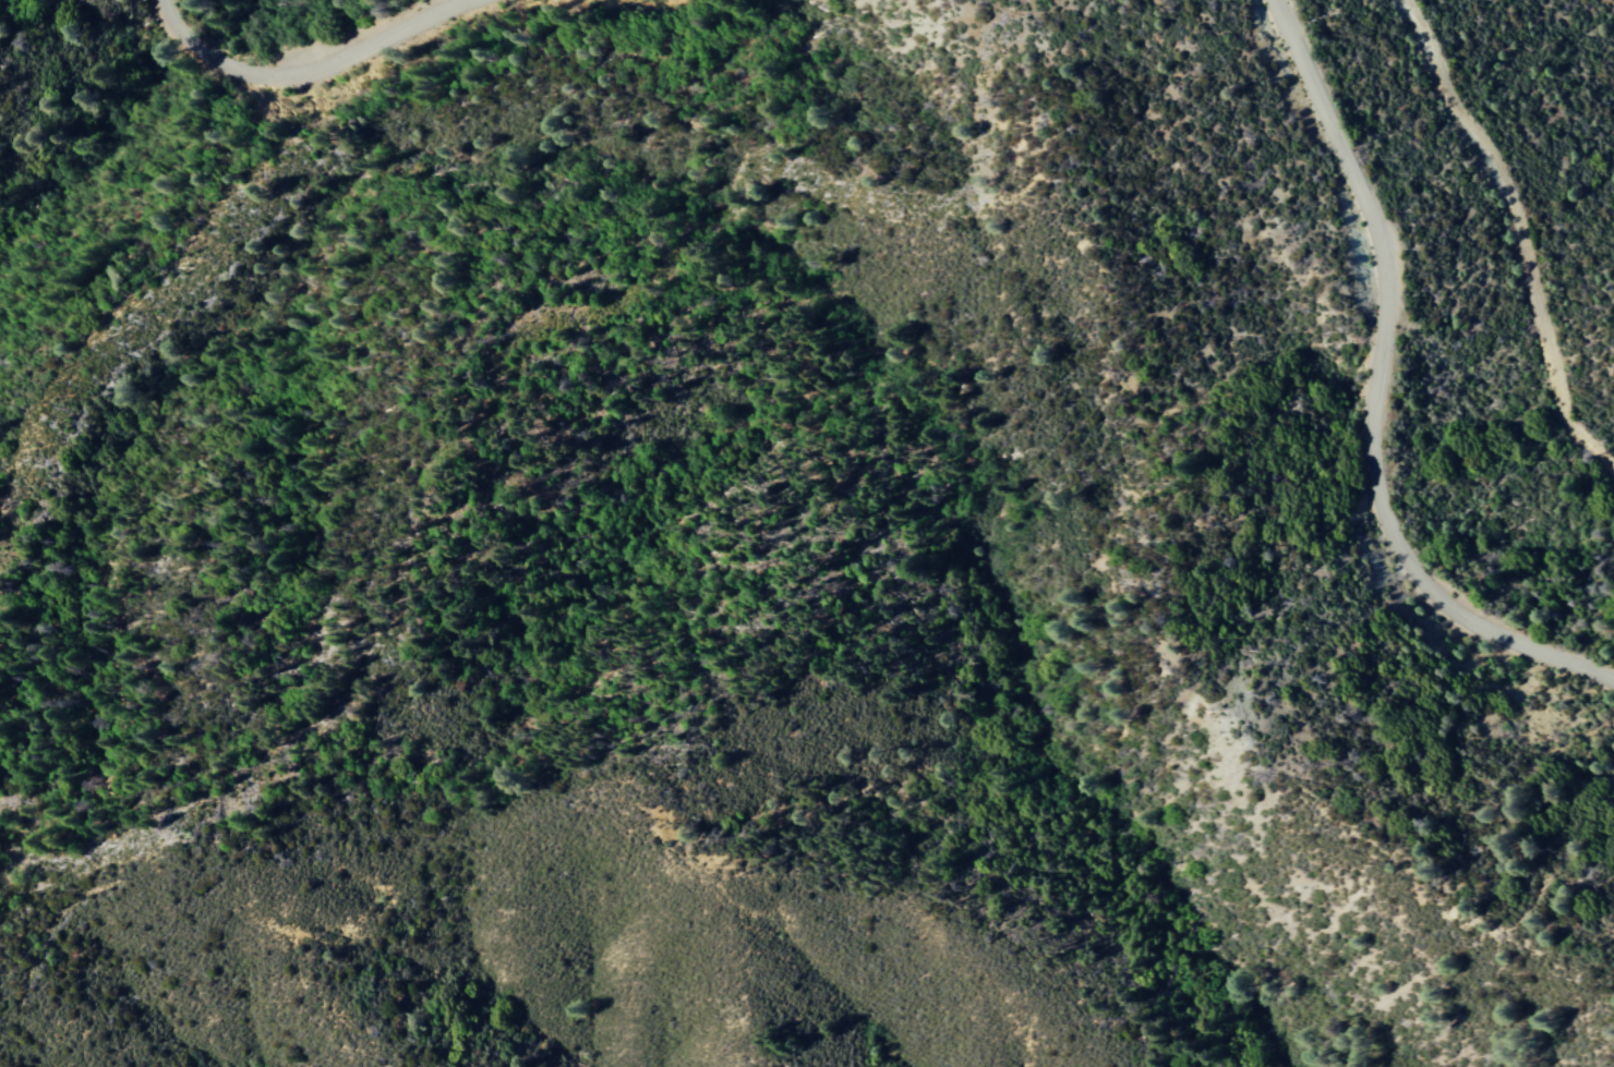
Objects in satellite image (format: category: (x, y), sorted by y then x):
road: (306, 72)
road: (1520, 231)
road: (1378, 395)

